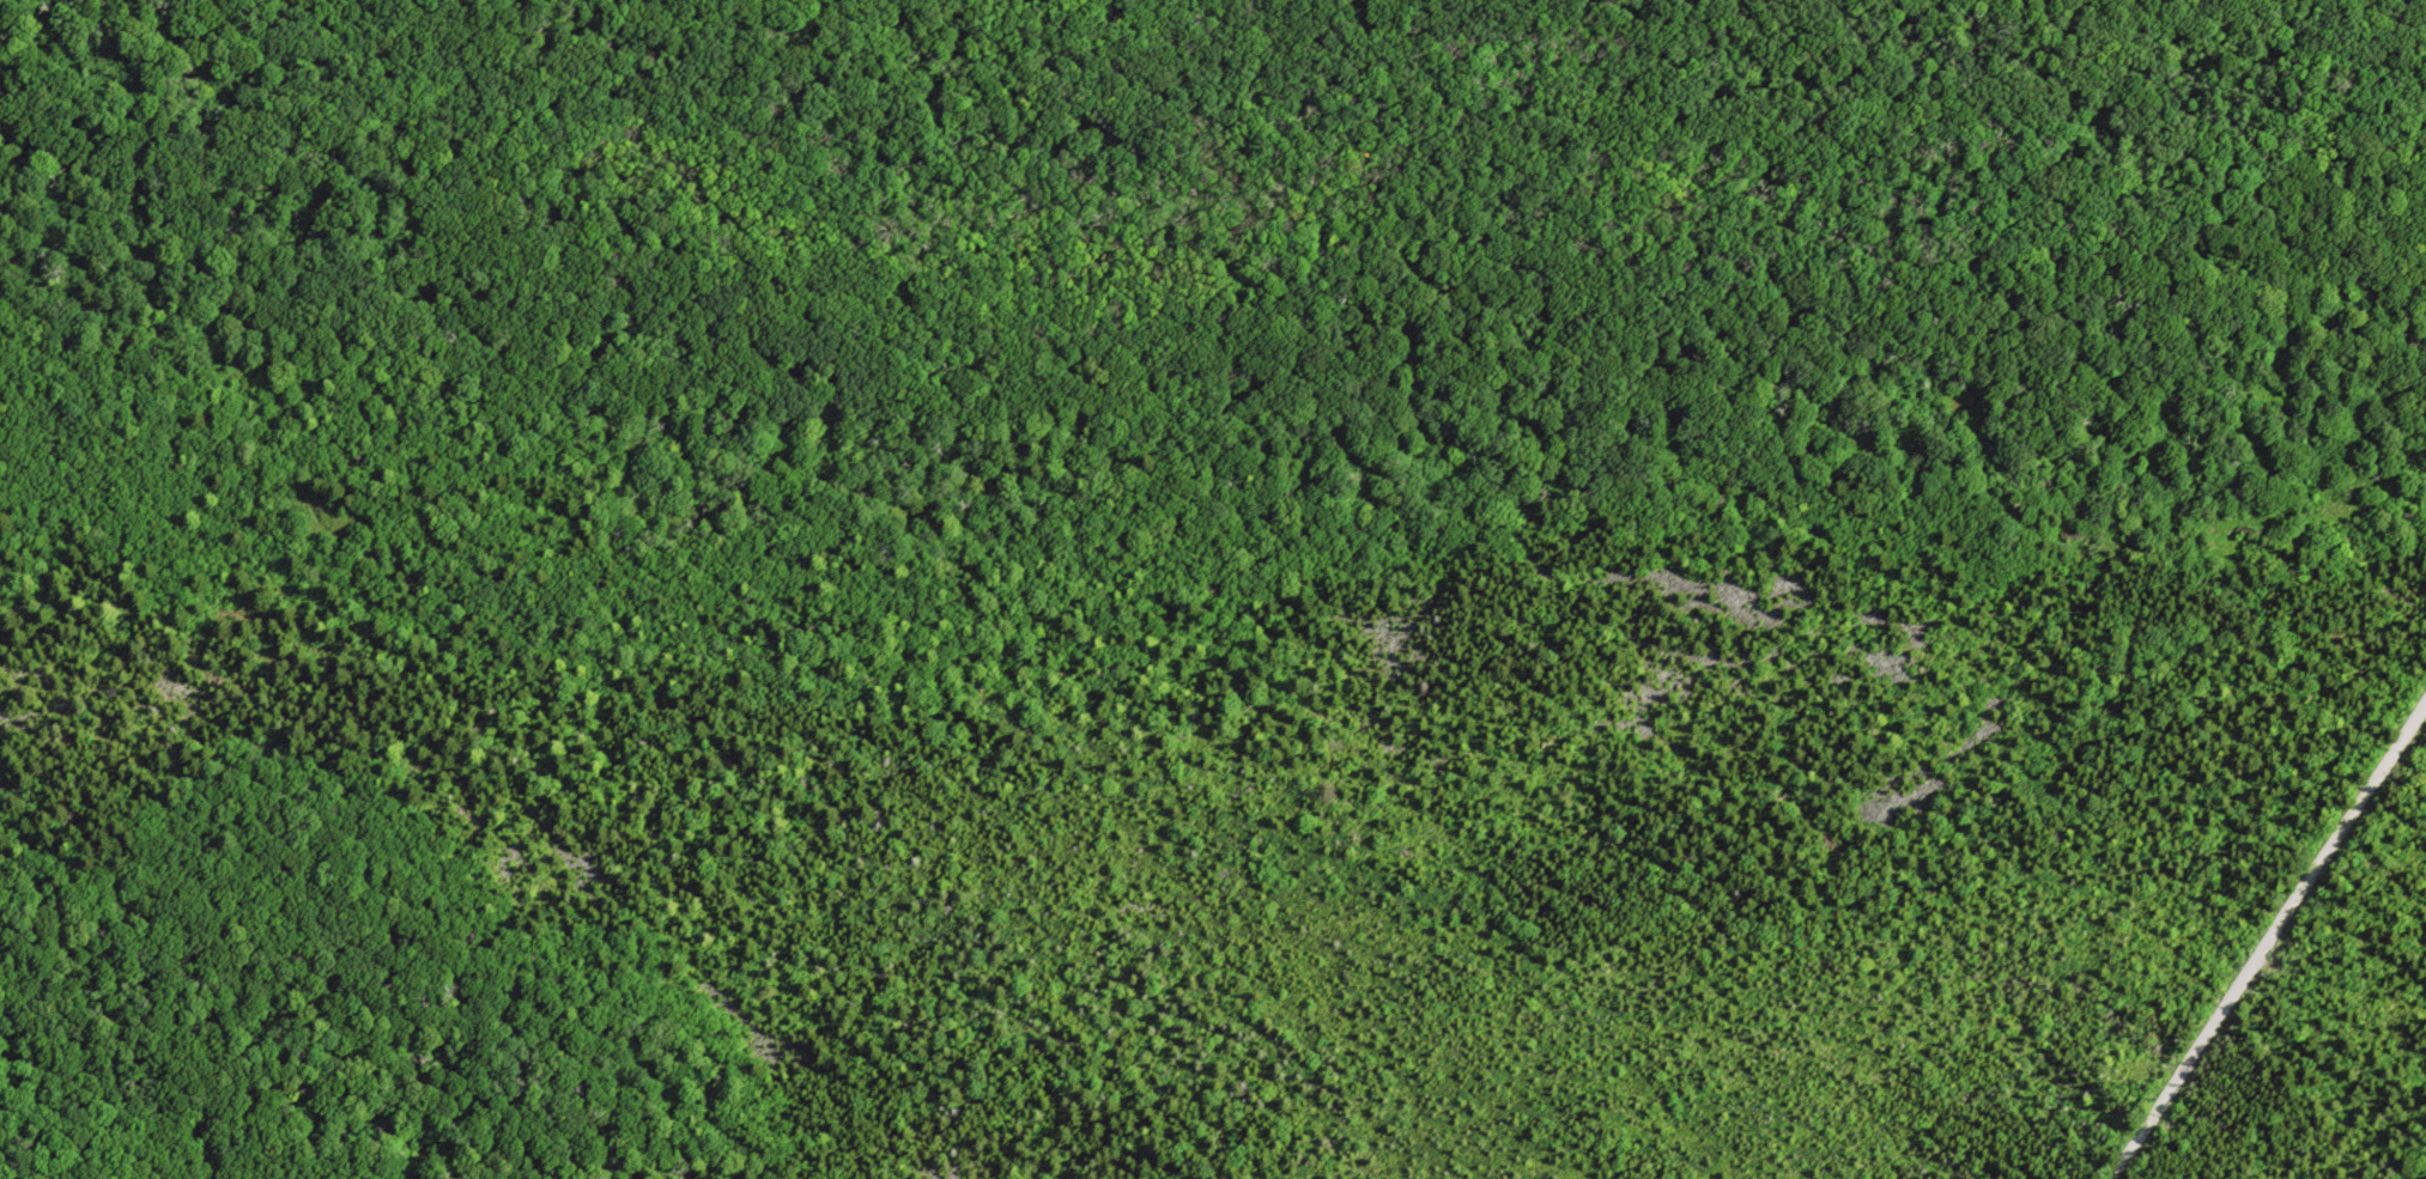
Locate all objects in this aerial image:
road: (2269, 941)

